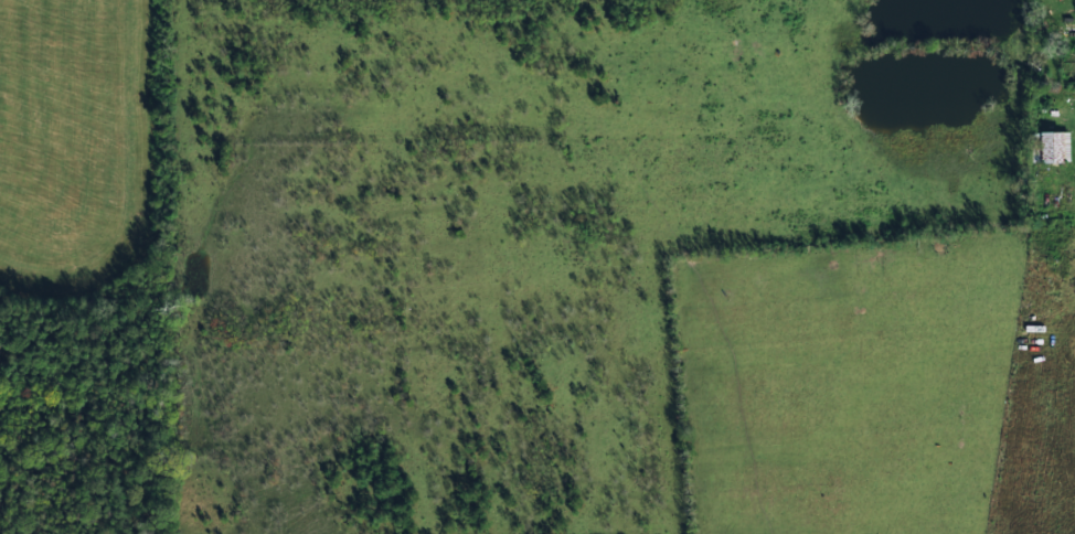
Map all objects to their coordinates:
road: (1052, 36)
building: (1047, 145)

